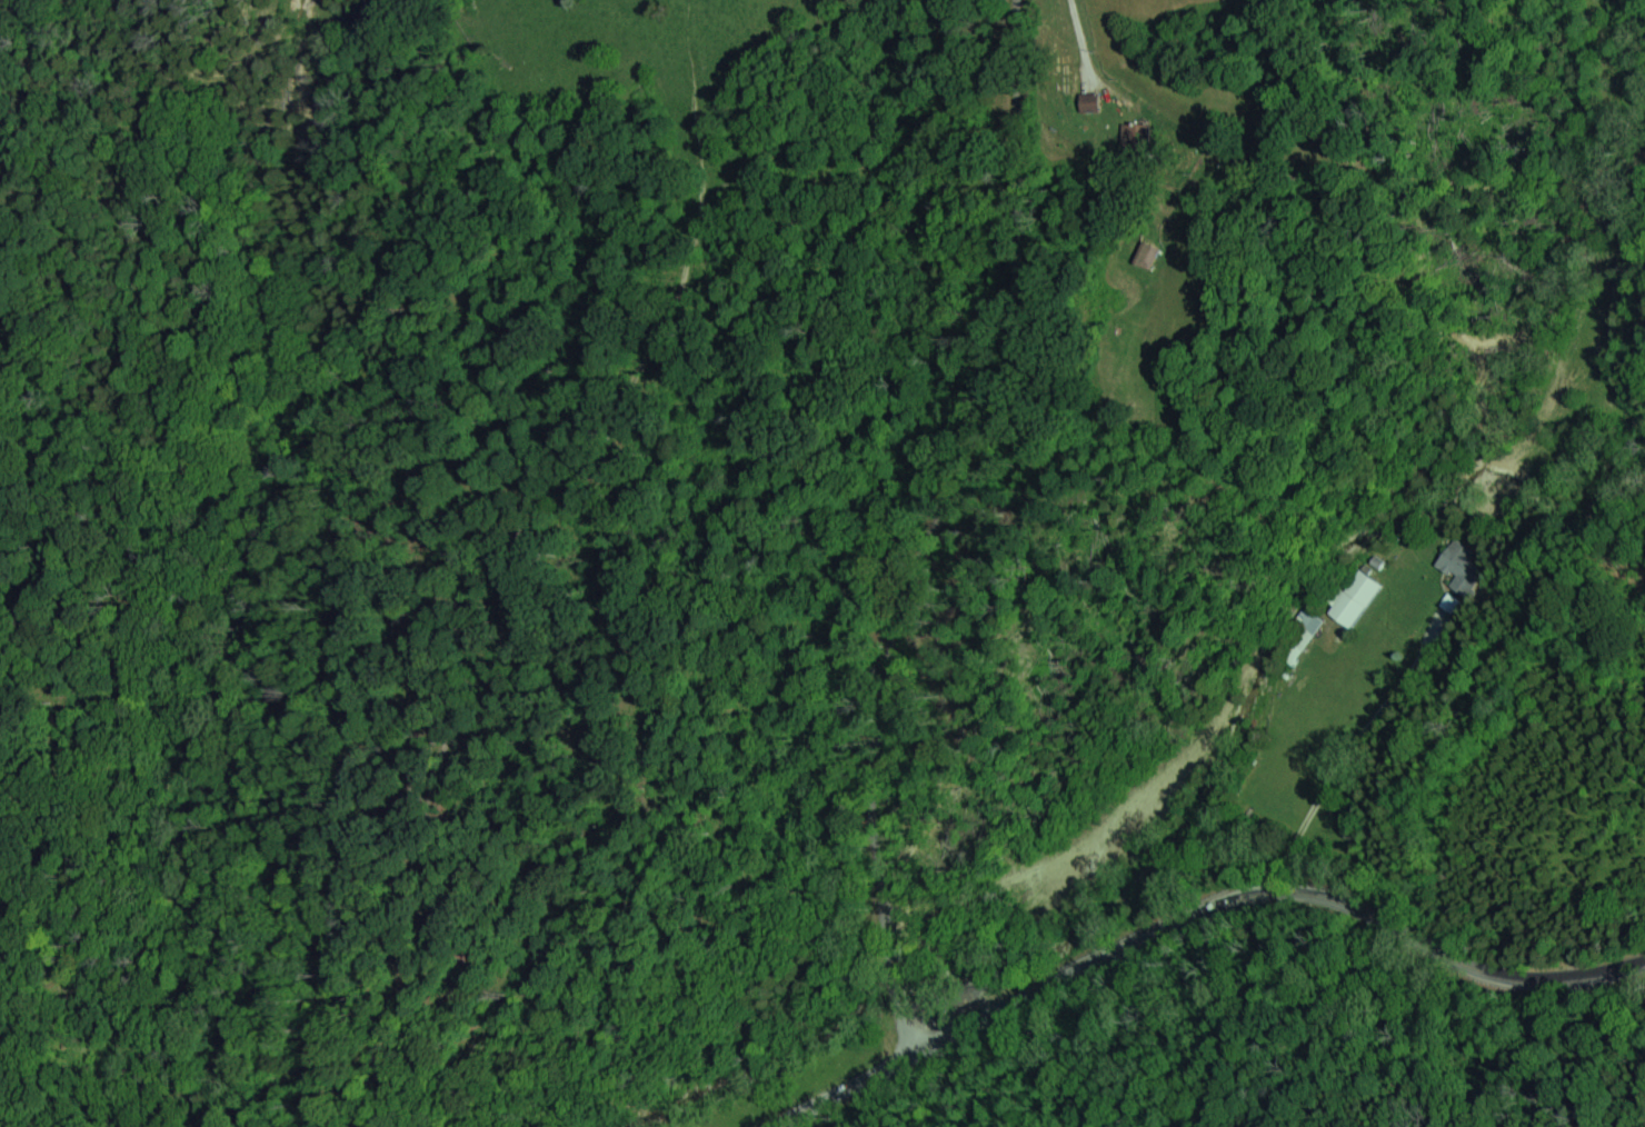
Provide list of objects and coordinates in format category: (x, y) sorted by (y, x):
road: (1079, 46)
crop: (627, 49)
crop: (1124, 66)
building: (1086, 103)
building: (1145, 257)
building: (1454, 560)
building: (1353, 600)
building: (1307, 620)
road: (1347, 759)
road: (1197, 924)

